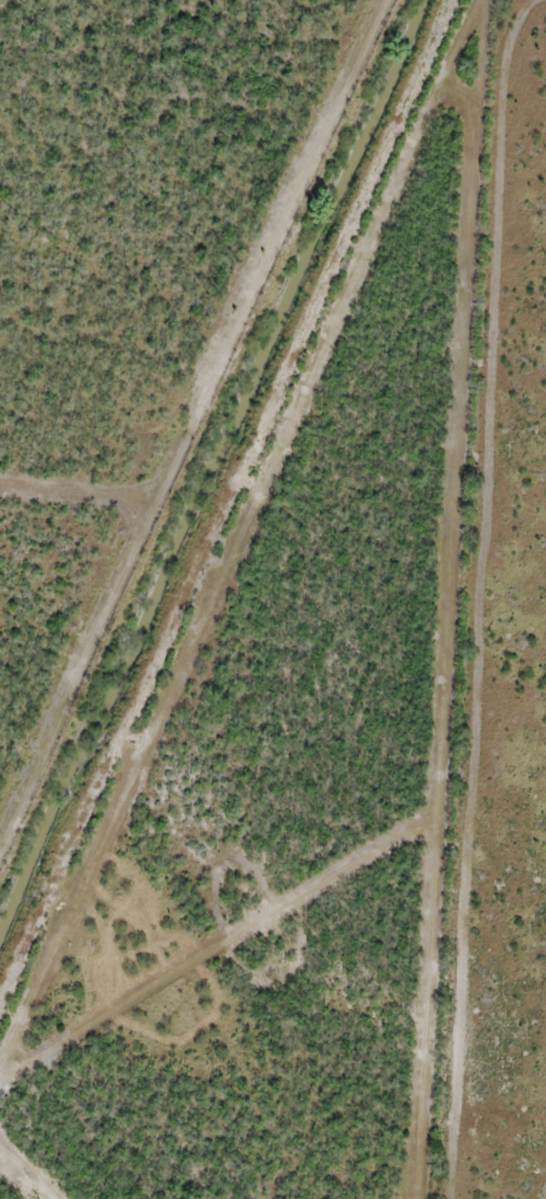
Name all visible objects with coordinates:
river: (207, 462)

